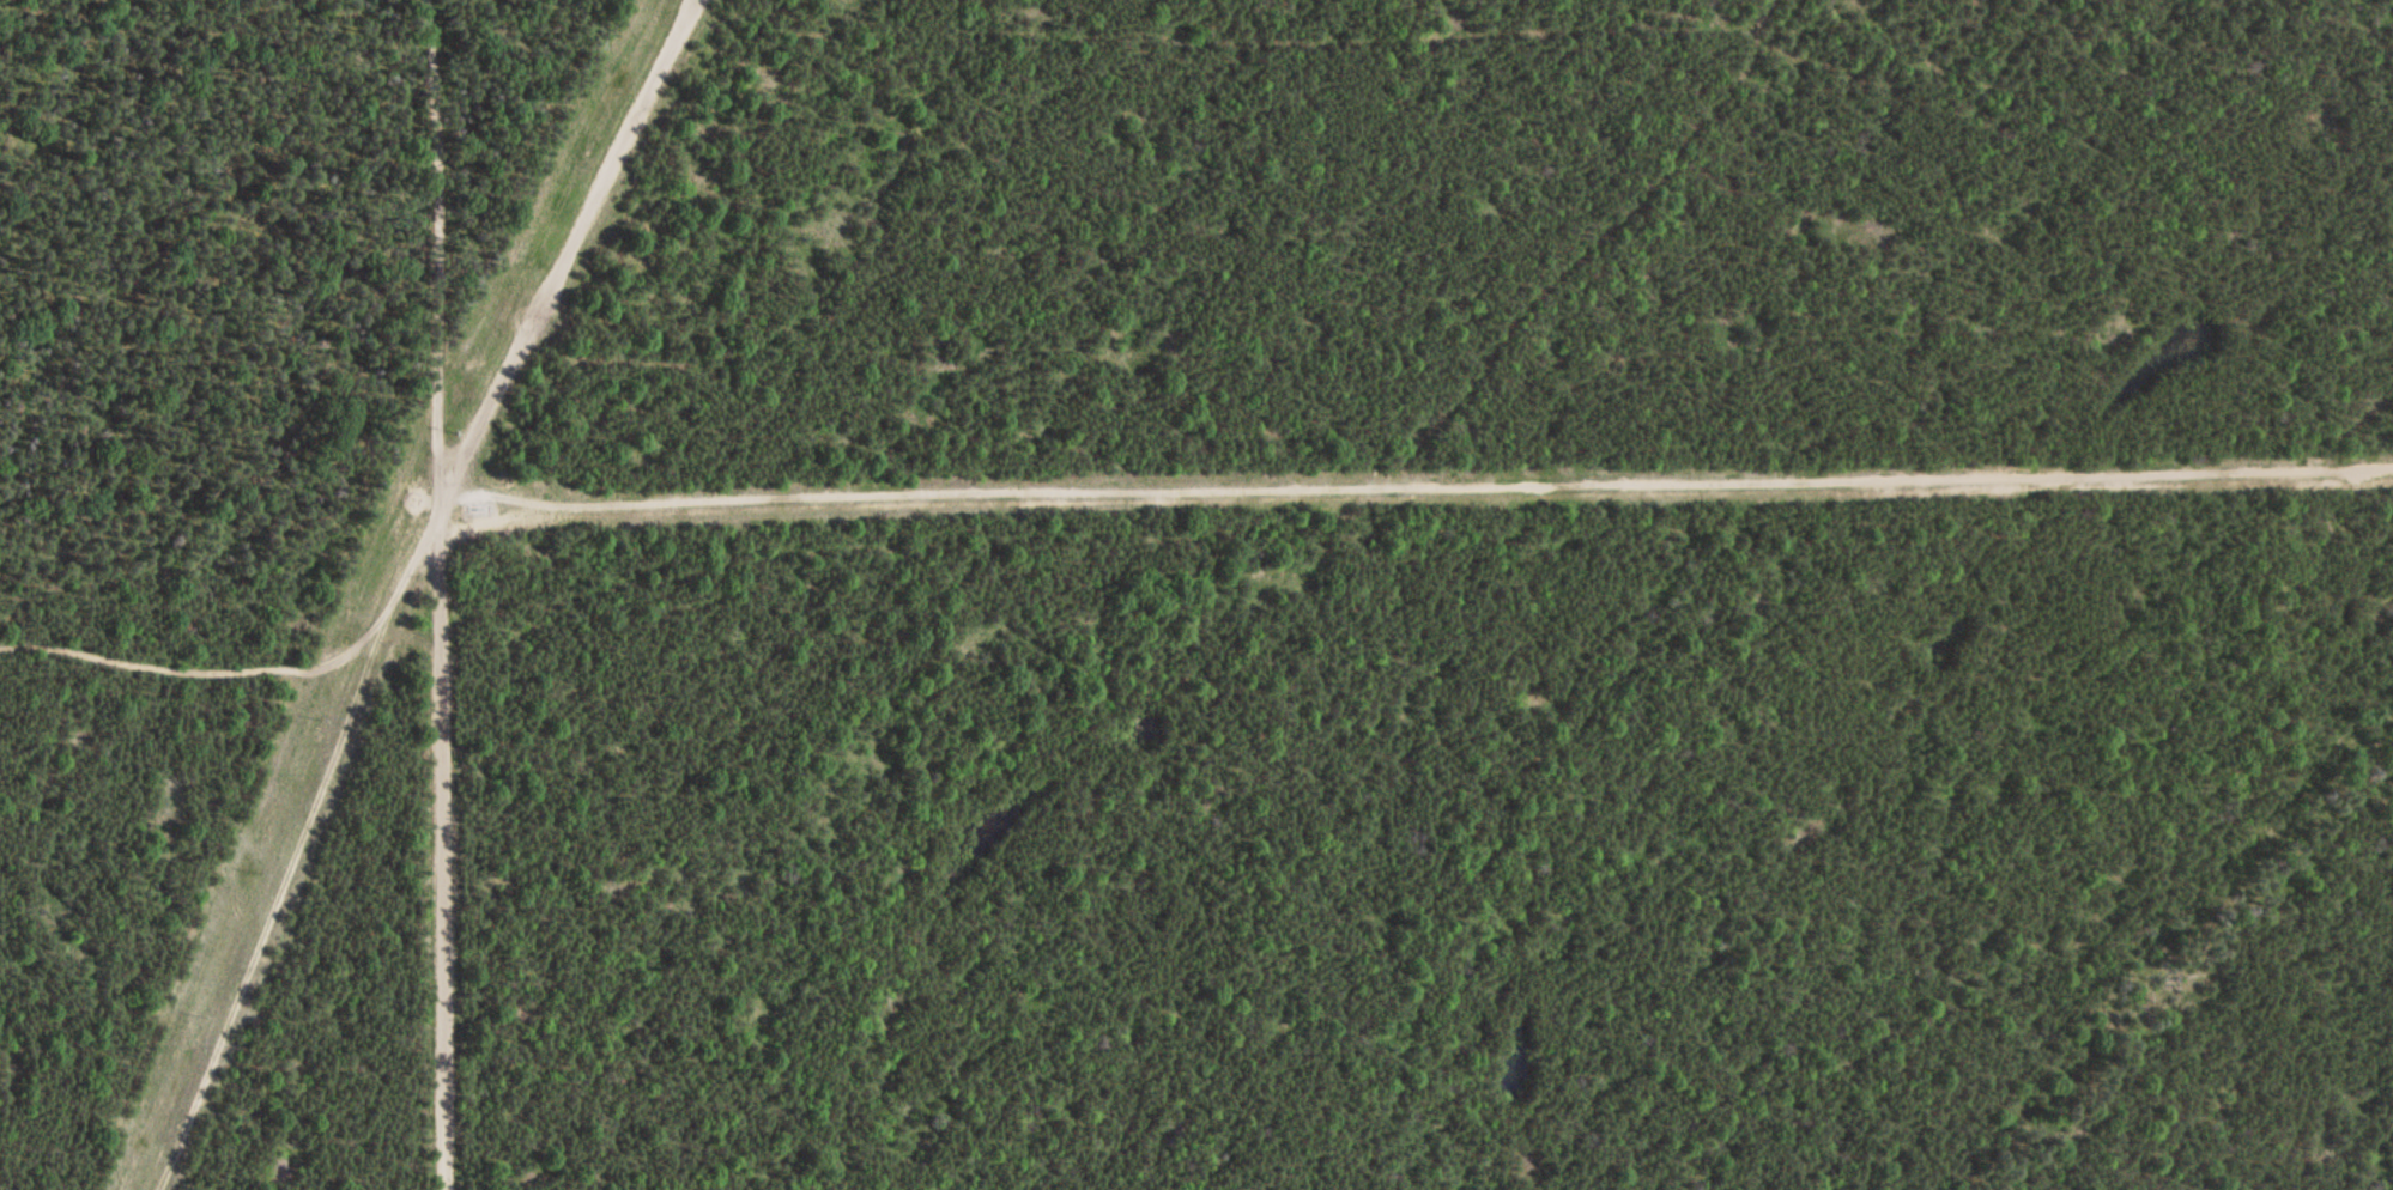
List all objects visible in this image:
road: (569, 260)
road: (1884, 472)
road: (962, 494)
road: (436, 594)
road: (261, 921)

